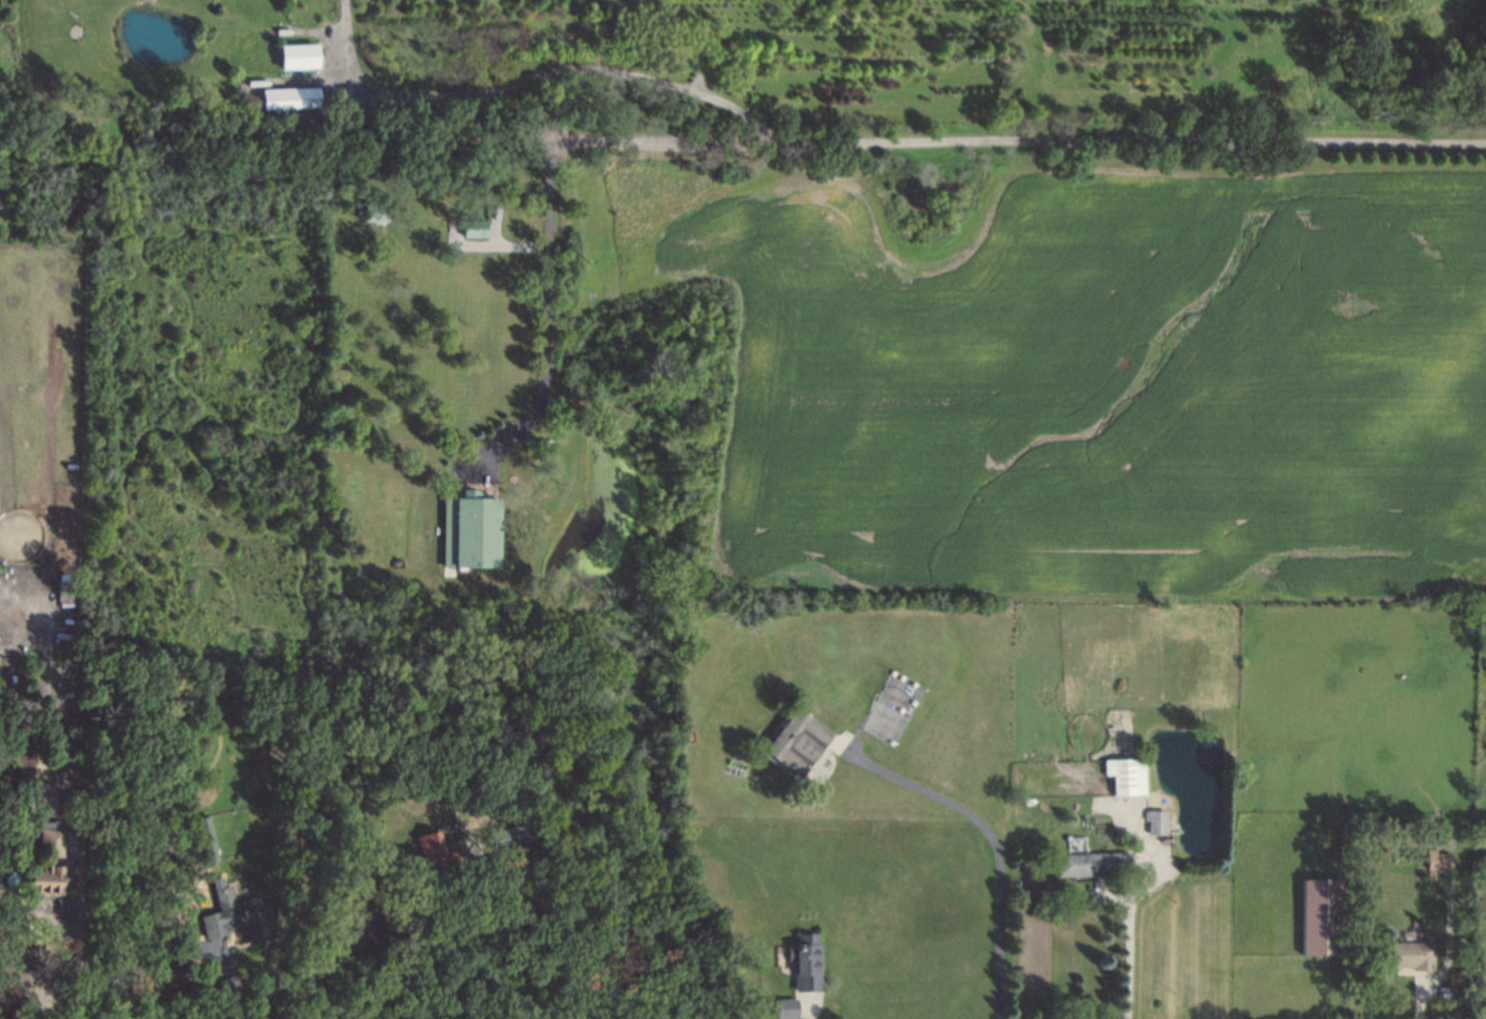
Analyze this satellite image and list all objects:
building: (298, 57)
road: (532, 77)
building: (291, 98)
road: (841, 142)
building: (377, 212)
building: (476, 228)
road: (513, 246)
building: (468, 531)
park: (892, 709)
building: (797, 742)
building: (1127, 777)
building: (45, 795)
building: (1156, 822)
building: (509, 836)
road: (992, 836)
building: (206, 839)
building: (52, 841)
building: (437, 848)
building: (1440, 860)
building: (1092, 864)
building: (51, 878)
building: (240, 915)
building: (1323, 917)
road: (491, 931)
road: (80, 932)
road: (1131, 934)
building: (1410, 956)
building: (803, 962)
building: (178, 971)
road: (232, 980)
building: (786, 1008)

